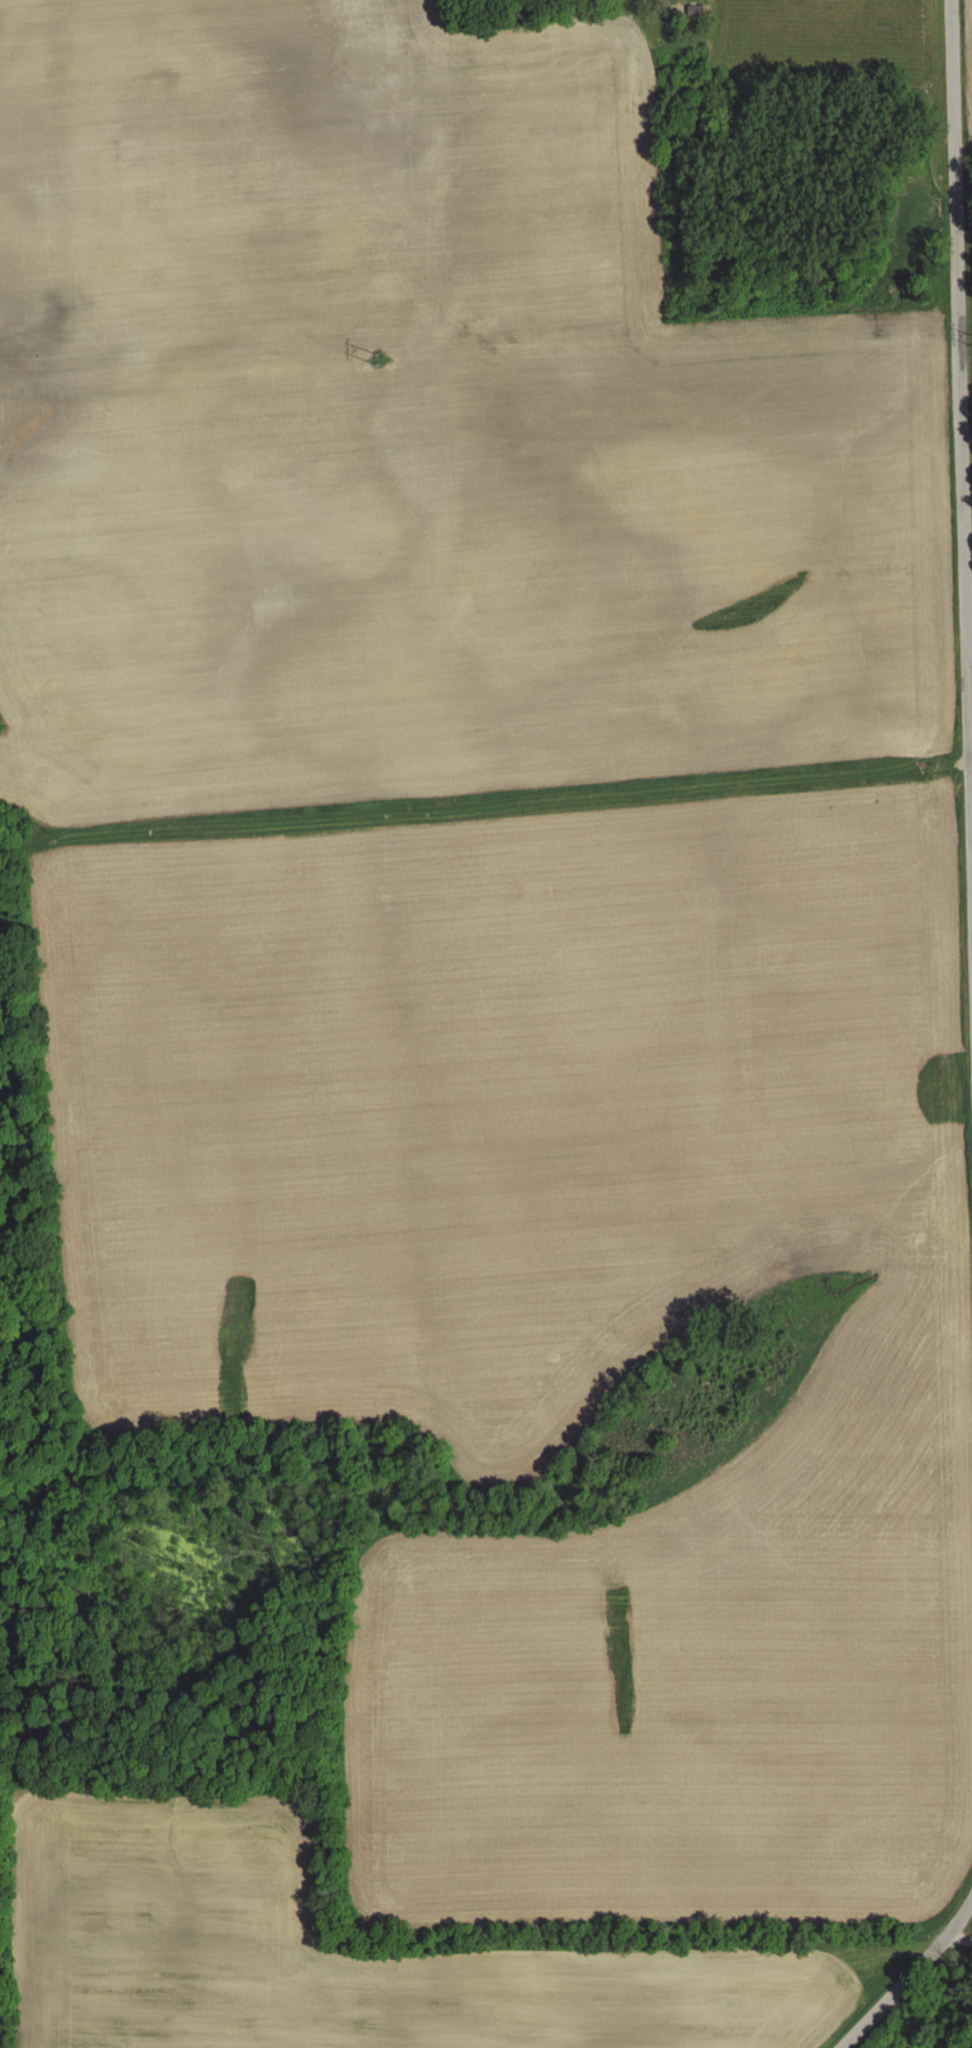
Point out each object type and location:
road: (963, 825)
road: (908, 1976)

